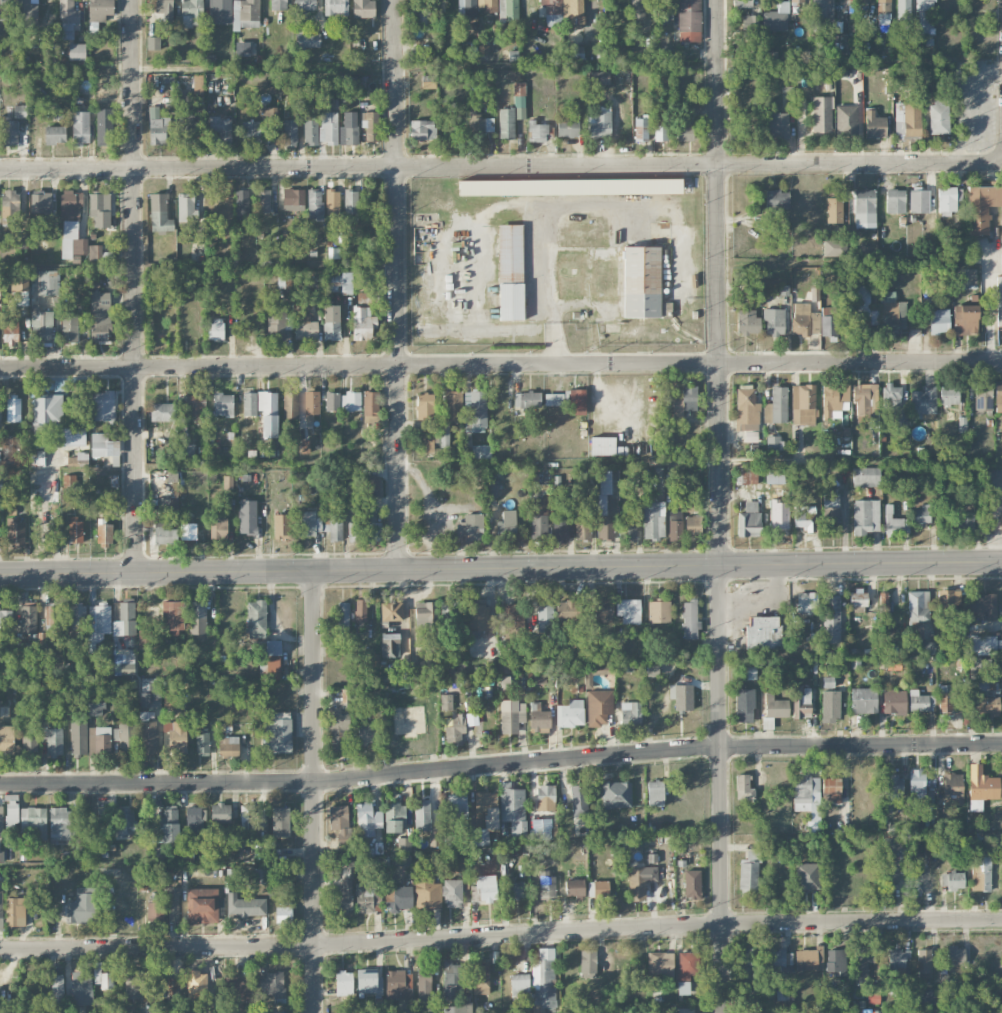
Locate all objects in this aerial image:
building: (863, 0)
building: (797, 1)
building: (742, 3)
building: (278, 4)
building: (303, 6)
building: (335, 7)
building: (474, 7)
building: (165, 8)
building: (363, 8)
building: (665, 8)
building: (25, 9)
building: (903, 9)
building: (508, 10)
building: (220, 11)
building: (553, 11)
building: (638, 11)
building: (883, 11)
building: (191, 13)
building: (245, 14)
building: (423, 14)
building: (818, 14)
building: (925, 16)
building: (5, 18)
building: (68, 18)
building: (776, 18)
building: (689, 20)
building: (576, 22)
building: (750, 25)
building: (308, 40)
building: (153, 42)
building: (242, 48)
building: (77, 51)
building: (574, 52)
building: (598, 78)
building: (197, 84)
building: (519, 100)
road: (964, 102)
building: (20, 111)
building: (58, 113)
building: (270, 114)
building: (821, 114)
building: (938, 116)
building: (911, 118)
building: (846, 120)
building: (187, 121)
building: (599, 122)
building: (481, 123)
building: (506, 123)
building: (370, 125)
building: (568, 125)
building: (778, 125)
building: (874, 125)
building: (80, 127)
building: (158, 127)
building: (328, 127)
building: (290, 128)
building: (642, 128)
building: (684, 128)
building: (899, 128)
building: (221, 129)
building: (348, 129)
building: (8, 130)
building: (422, 130)
building: (251, 131)
building: (537, 131)
building: (310, 132)
building: (660, 132)
building: (55, 134)
road: (501, 167)
building: (570, 187)
building: (293, 199)
building: (777, 200)
building: (263, 201)
building: (332, 201)
building: (895, 201)
building: (918, 201)
building: (41, 202)
building: (70, 204)
building: (241, 204)
building: (315, 204)
building: (351, 206)
building: (864, 206)
building: (982, 207)
building: (10, 208)
building: (186, 208)
building: (100, 209)
building: (834, 210)
building: (159, 213)
building: (72, 240)
building: (833, 248)
building: (94, 252)
building: (510, 252)
building: (641, 281)
building: (48, 282)
building: (339, 282)
road: (398, 284)
road: (134, 286)
building: (19, 289)
building: (888, 296)
building: (365, 297)
building: (999, 300)
building: (510, 301)
building: (665, 309)
building: (860, 309)
building: (100, 316)
road: (991, 317)
building: (965, 319)
building: (804, 320)
building: (893, 320)
building: (774, 321)
building: (828, 321)
building: (939, 321)
building: (331, 322)
building: (747, 322)
building: (276, 323)
building: (362, 323)
building: (41, 327)
building: (305, 327)
building: (216, 328)
building: (10, 330)
building: (69, 332)
road: (501, 364)
building: (949, 395)
building: (983, 395)
building: (998, 395)
building: (891, 396)
building: (833, 397)
building: (527, 399)
building: (553, 399)
building: (864, 399)
building: (332, 401)
building: (351, 401)
building: (685, 401)
building: (577, 402)
building: (922, 402)
building: (195, 404)
building: (223, 404)
building: (311, 404)
building: (803, 404)
building: (102, 405)
building: (290, 405)
building: (370, 406)
building: (425, 406)
building: (452, 406)
building: (776, 406)
building: (475, 409)
building: (746, 409)
building: (13, 410)
building: (262, 410)
building: (162, 412)
building: (46, 416)
building: (902, 419)
building: (73, 436)
building: (444, 436)
building: (428, 440)
building: (774, 442)
building: (604, 446)
building: (105, 447)
building: (478, 451)
building: (38, 456)
building: (45, 474)
building: (745, 474)
building: (774, 475)
building: (865, 476)
building: (372, 486)
building: (491, 488)
building: (169, 505)
building: (604, 506)
road: (721, 506)
building: (830, 509)
building: (539, 513)
building: (247, 516)
building: (865, 516)
building: (920, 516)
building: (654, 520)
building: (749, 520)
building: (805, 520)
building: (627, 523)
building: (895, 523)
building: (966, 523)
building: (319, 524)
building: (470, 524)
building: (506, 525)
building: (675, 525)
building: (693, 525)
building: (281, 526)
building: (373, 527)
building: (560, 527)
building: (218, 528)
building: (583, 528)
building: (75, 530)
building: (352, 531)
building: (15, 532)
building: (164, 533)
building: (105, 535)
building: (188, 537)
road: (501, 569)
building: (858, 598)
building: (948, 601)
building: (806, 602)
building: (982, 605)
building: (918, 606)
building: (883, 607)
building: (603, 609)
building: (361, 610)
building: (628, 610)
building: (391, 611)
building: (659, 611)
building: (449, 612)
building: (567, 613)
building: (52, 615)
building: (77, 615)
building: (478, 615)
building: (5, 616)
building: (343, 616)
building: (422, 616)
building: (171, 617)
building: (197, 617)
building: (99, 618)
building: (545, 618)
building: (28, 619)
building: (256, 619)
building: (689, 619)
building: (831, 619)
building: (125, 620)
building: (513, 621)
building: (762, 632)
building: (984, 643)
building: (389, 644)
building: (925, 648)
building: (124, 660)
building: (270, 661)
building: (894, 663)
building: (504, 665)
building: (976, 669)
building: (150, 692)
building: (683, 697)
building: (170, 698)
building: (345, 699)
building: (863, 700)
building: (945, 700)
building: (446, 701)
building: (894, 701)
building: (920, 701)
building: (801, 702)
building: (744, 705)
building: (985, 705)
building: (599, 707)
building: (776, 707)
building: (95, 708)
building: (830, 708)
building: (570, 713)
building: (630, 714)
building: (511, 716)
building: (539, 718)
building: (338, 730)
building: (455, 730)
building: (277, 732)
building: (367, 734)
building: (176, 736)
building: (78, 737)
building: (7, 738)
building: (148, 738)
building: (53, 740)
building: (99, 741)
building: (202, 741)
building: (29, 745)
building: (228, 746)
road: (501, 766)
building: (982, 784)
building: (830, 785)
building: (892, 786)
building: (916, 786)
building: (744, 787)
building: (952, 790)
road: (316, 791)
building: (655, 793)
building: (616, 794)
building: (545, 797)
building: (807, 797)
building: (579, 800)
building: (457, 805)
building: (513, 808)
building: (220, 812)
building: (12, 814)
building: (423, 815)
building: (394, 817)
building: (485, 817)
building: (250, 818)
building: (194, 820)
building: (280, 820)
building: (367, 820)
building: (34, 821)
building: (125, 822)
building: (340, 823)
building: (61, 826)
building: (167, 826)
building: (404, 844)
building: (931, 847)
building: (157, 853)
building: (186, 853)
building: (652, 861)
building: (749, 871)
building: (981, 871)
building: (890, 874)
building: (260, 875)
building: (952, 880)
building: (636, 883)
building: (692, 884)
building: (547, 885)
building: (574, 887)
building: (598, 888)
building: (1, 889)
building: (484, 889)
building: (516, 890)
building: (452, 892)
building: (427, 895)
building: (366, 896)
building: (343, 898)
building: (398, 898)
building: (173, 903)
building: (202, 905)
building: (245, 905)
building: (80, 906)
building: (15, 911)
building: (155, 911)
building: (283, 914)
road: (501, 935)
building: (955, 955)
building: (809, 959)
building: (896, 960)
building: (835, 961)
building: (588, 963)
building: (924, 963)
building: (660, 964)
building: (861, 969)
building: (687, 970)
building: (102, 977)
building: (481, 977)
building: (453, 979)
building: (544, 981)
building: (344, 983)
building: (369, 983)
building: (134, 984)
building: (398, 984)
building: (519, 984)
building: (158, 985)
building: (273, 985)
building: (424, 985)
building: (78, 988)
building: (57, 989)
building: (172, 990)
building: (237, 993)
building: (925, 997)
building: (205, 1004)
building: (457, 1008)
building: (685, 1010)
building: (977, 1011)

